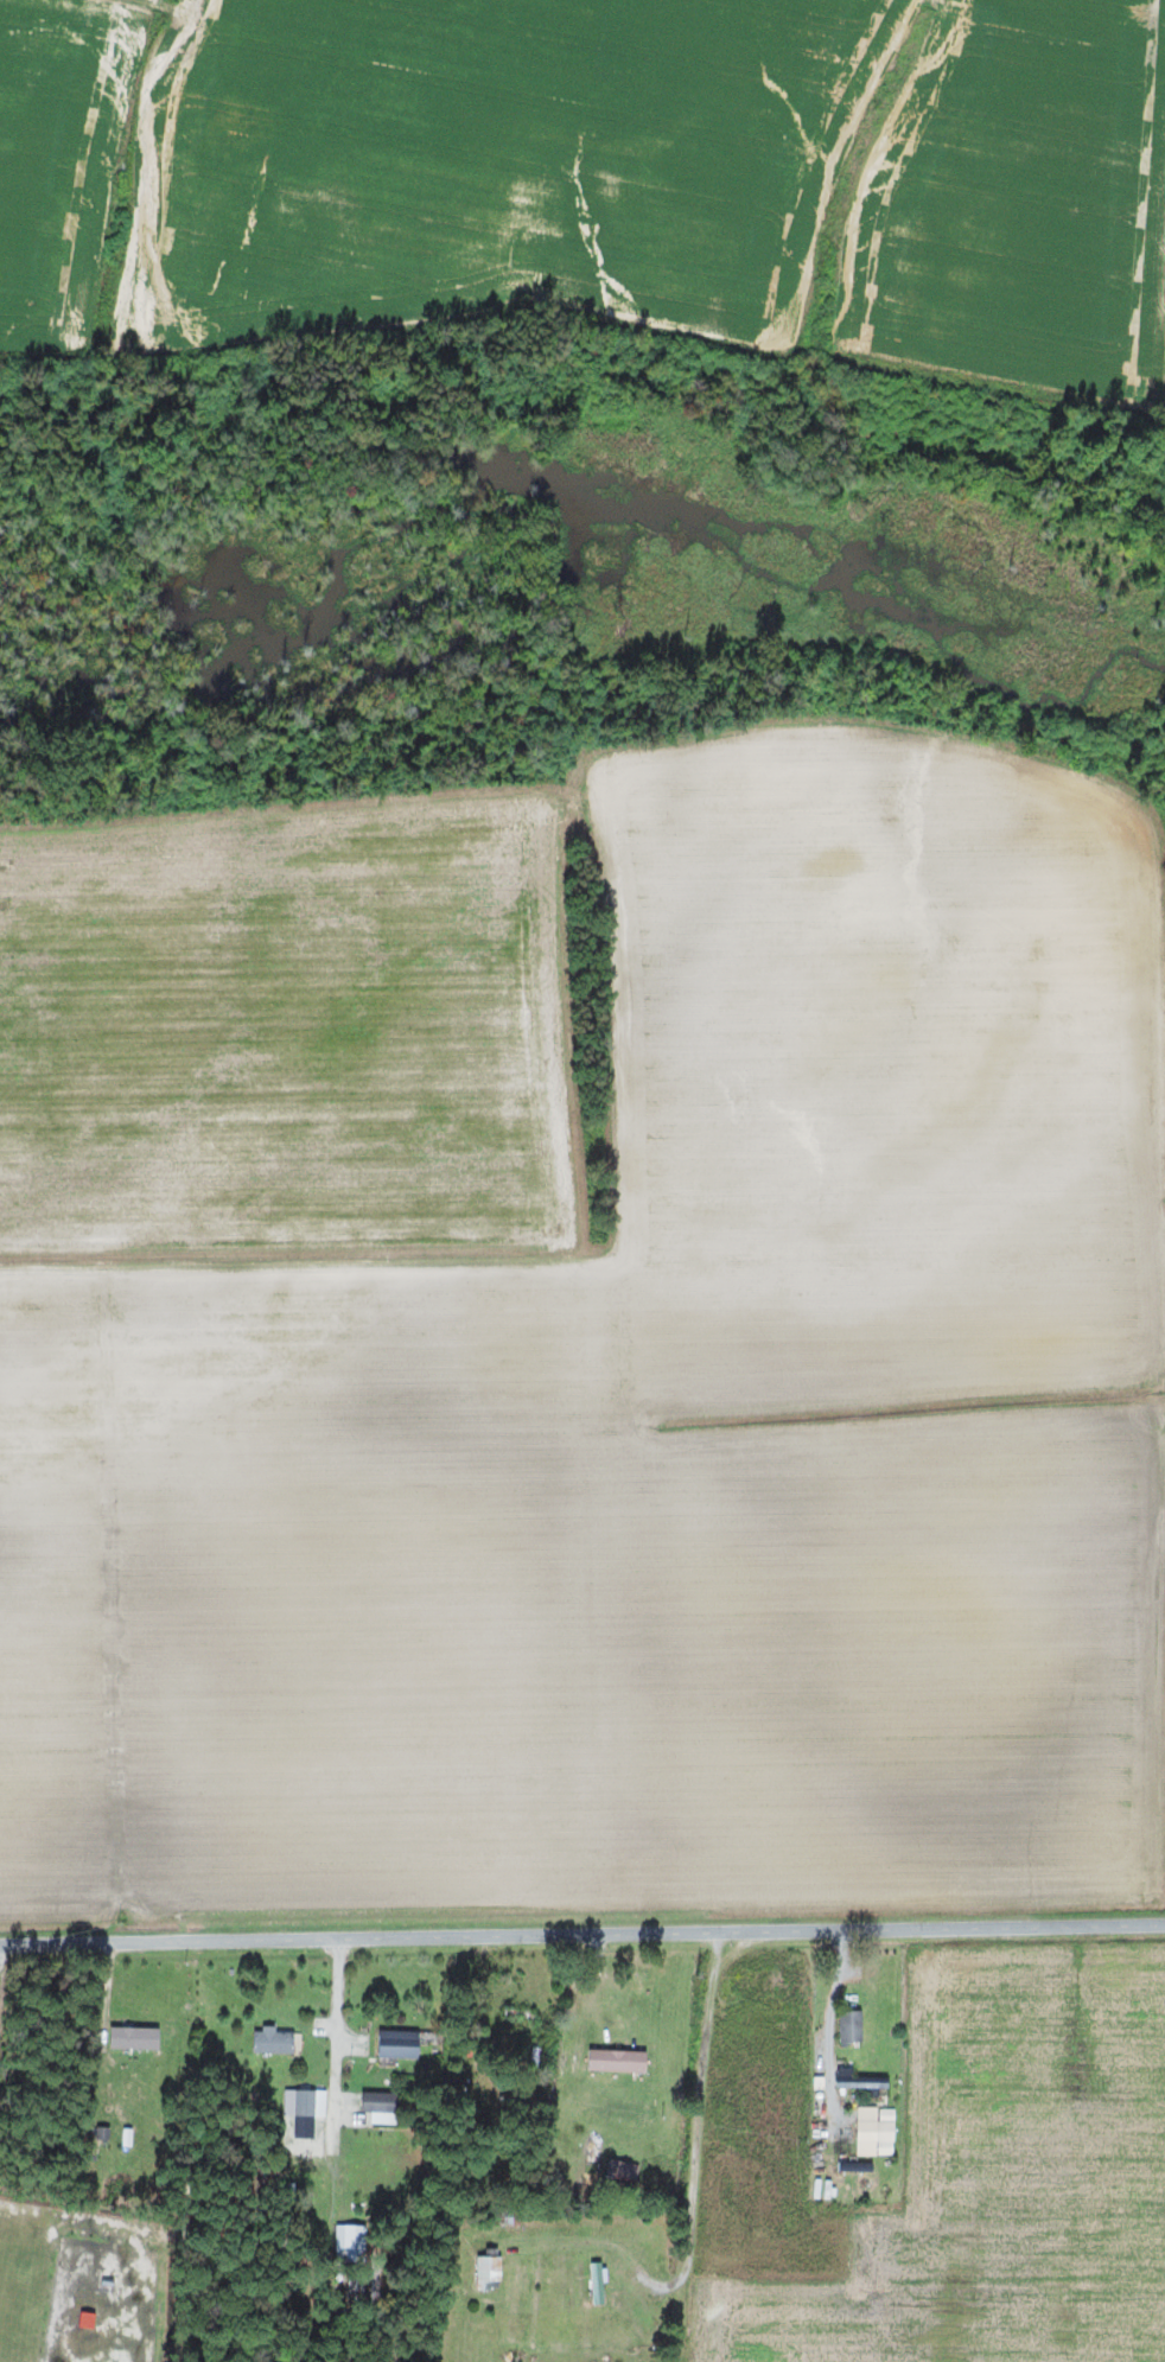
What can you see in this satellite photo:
road: (582, 1936)
building: (852, 2026)
building: (135, 2038)
building: (274, 2041)
building: (400, 2044)
building: (619, 2061)
building: (382, 2107)
building: (886, 2132)
building: (623, 2169)
building: (351, 2242)
building: (489, 2273)
building: (598, 2281)

